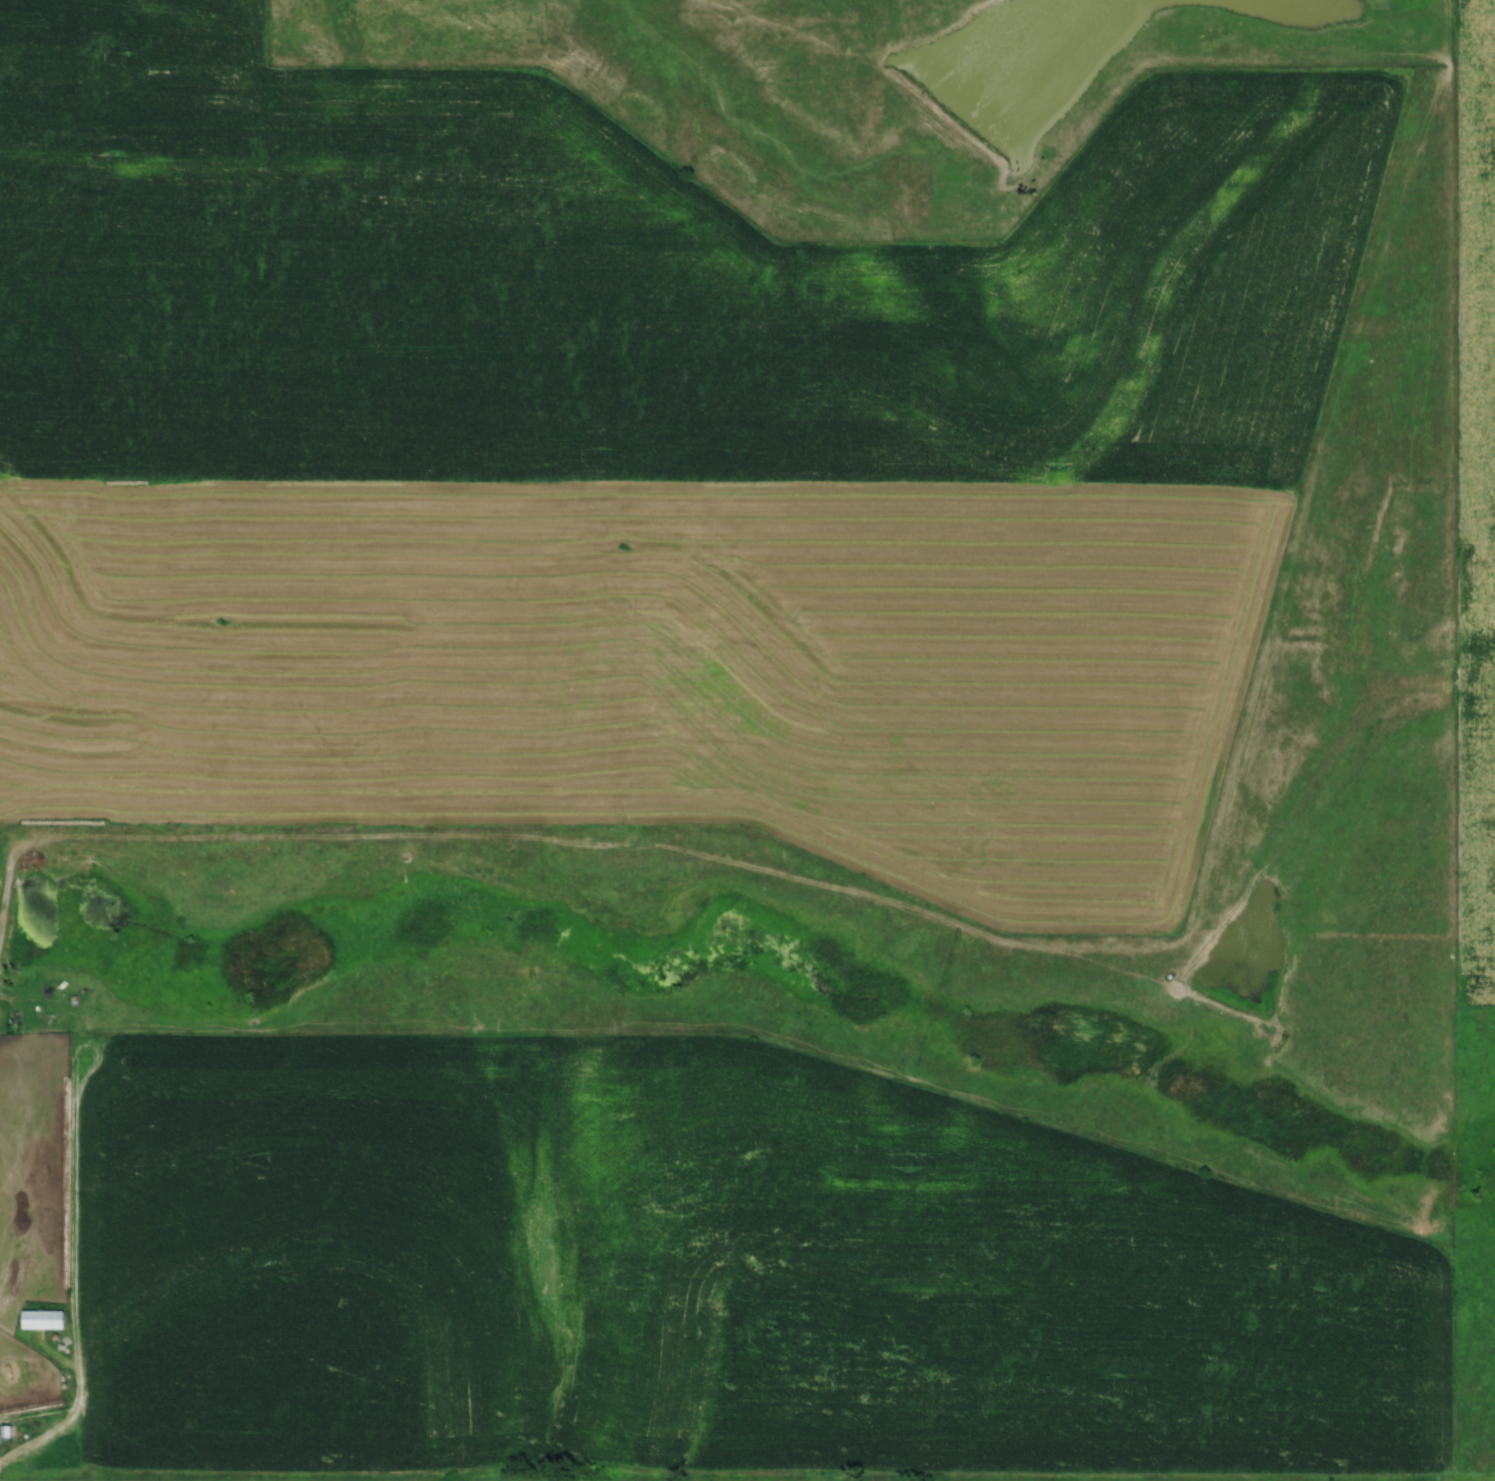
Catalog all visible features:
building: (44, 1319)

